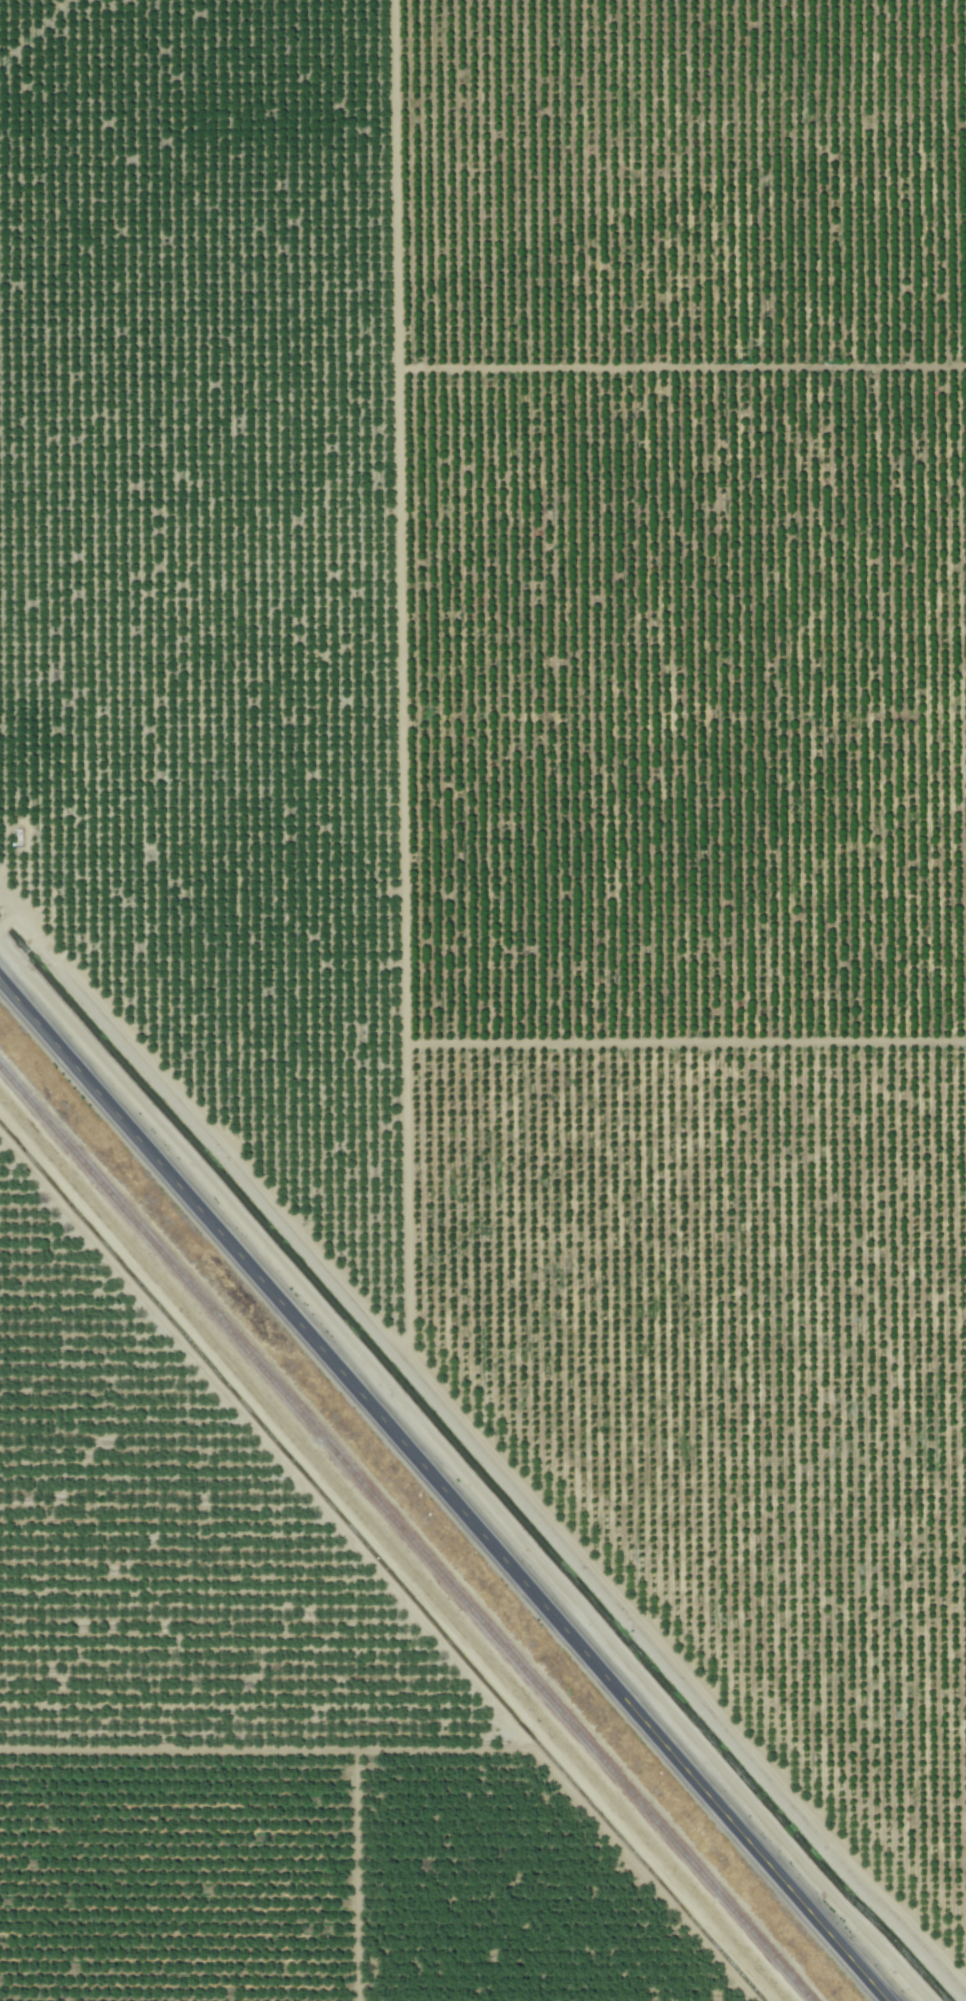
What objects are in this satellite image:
crop: (541, 792)
road: (443, 1490)
railway: (404, 1535)
building: (15, 1591)
building: (327, 1620)
crop: (224, 1739)

